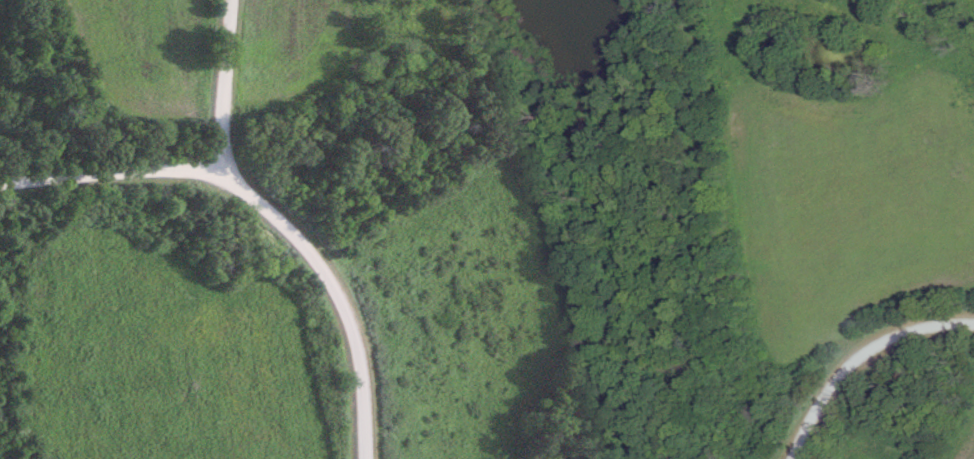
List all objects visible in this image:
road: (111, 173)
road: (286, 226)
road: (858, 355)

